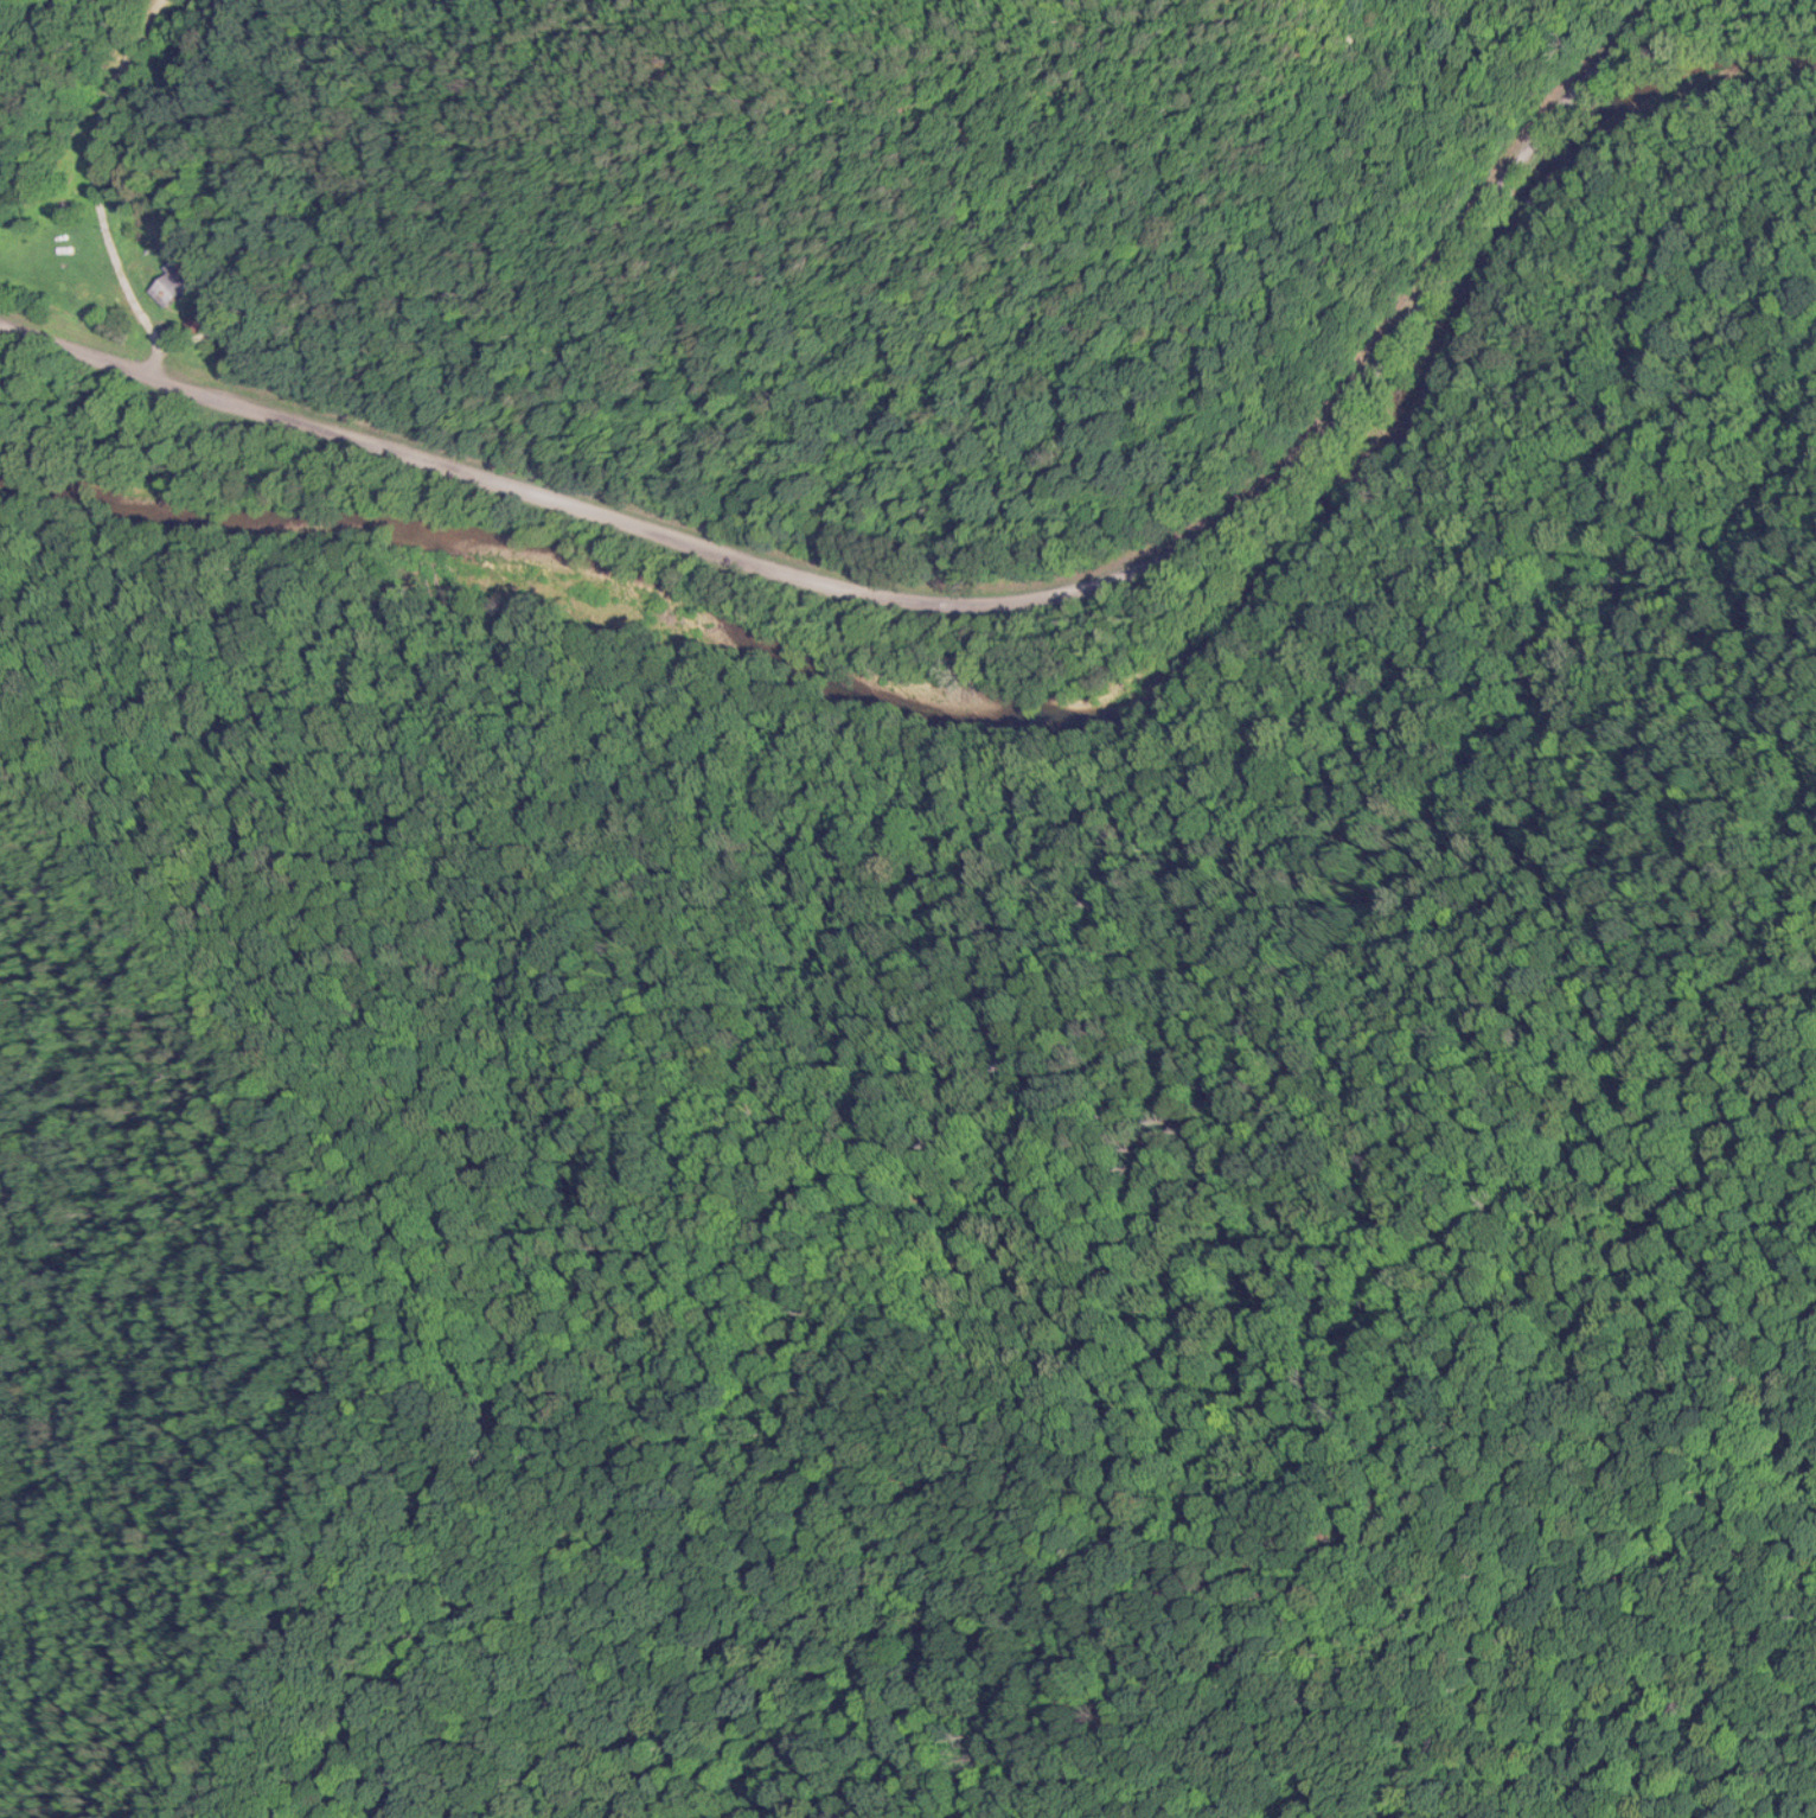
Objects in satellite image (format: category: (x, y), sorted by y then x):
road: (95, 198)
road: (946, 597)

